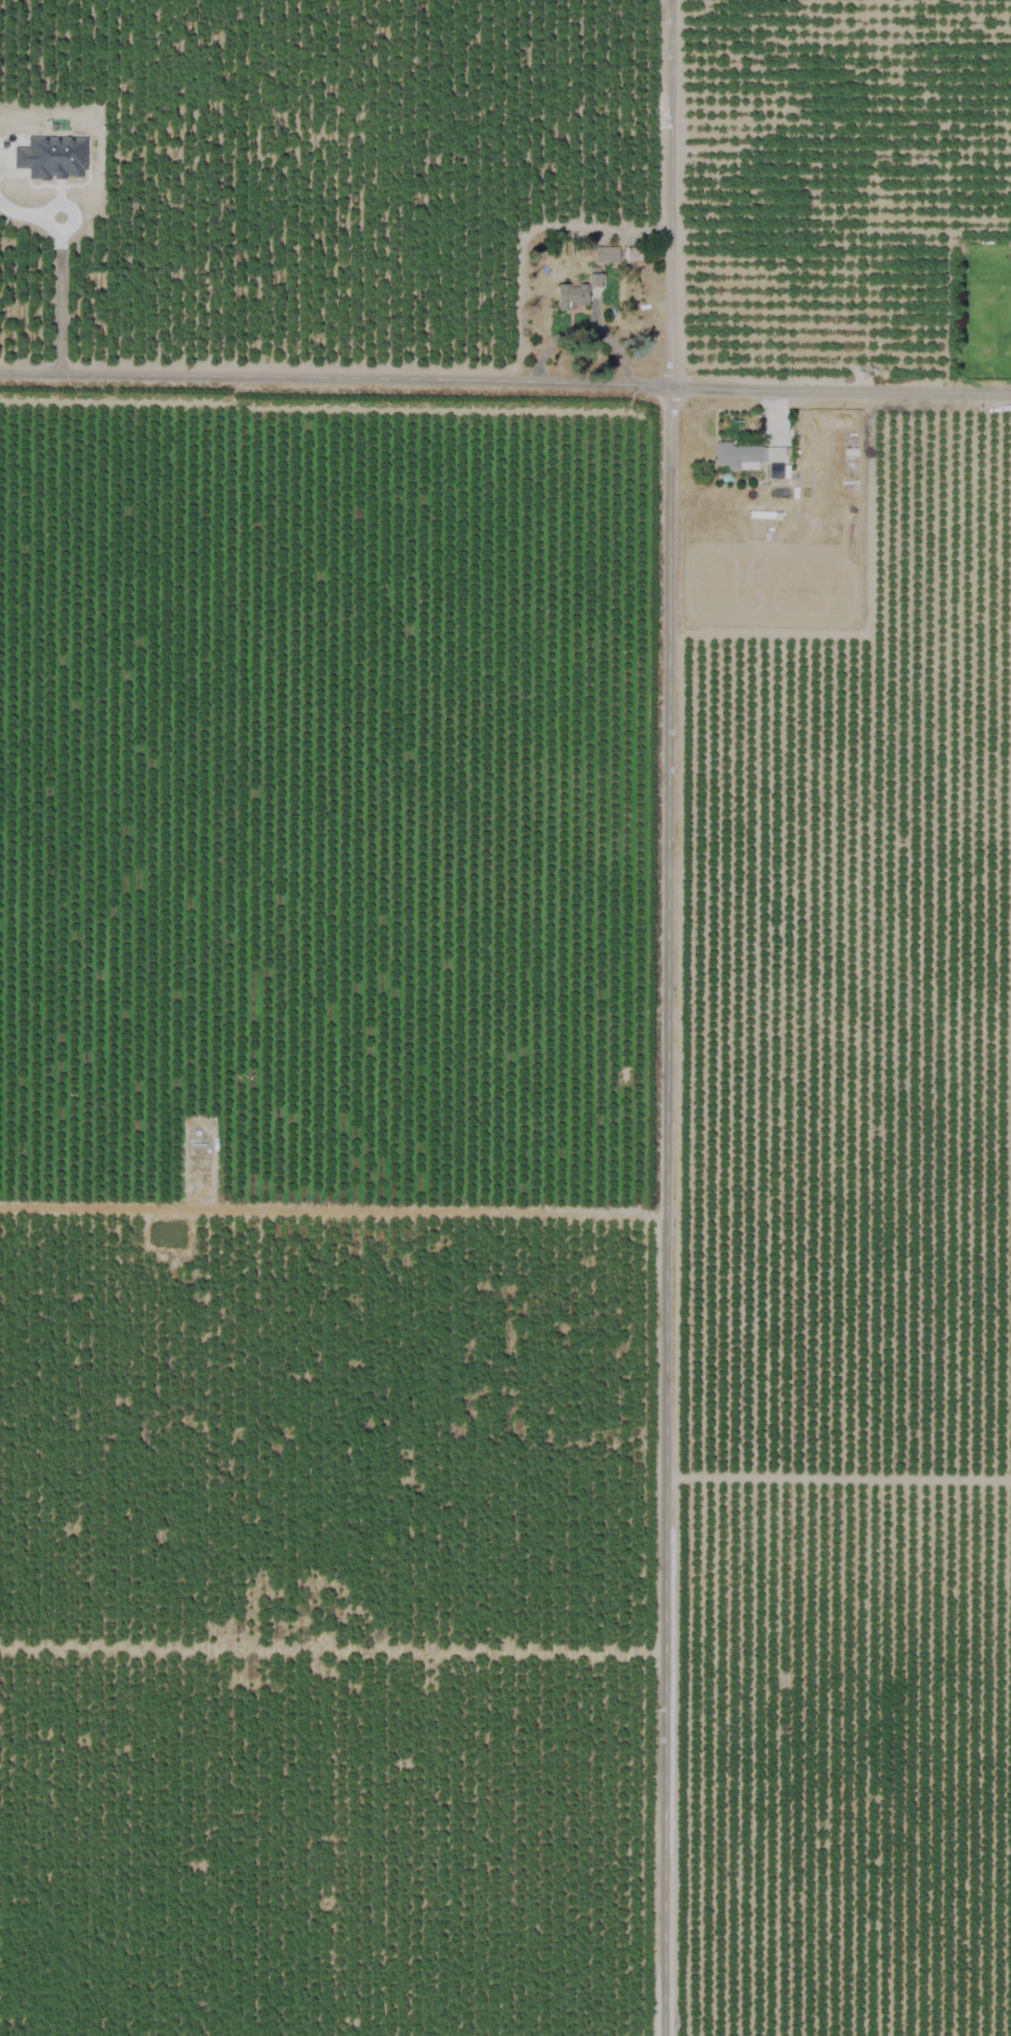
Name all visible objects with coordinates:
building: (52, 157)
building: (605, 254)
building: (594, 277)
building: (572, 295)
road: (56, 297)
road: (505, 376)
building: (751, 457)
crop: (505, 1018)
road: (668, 1018)

